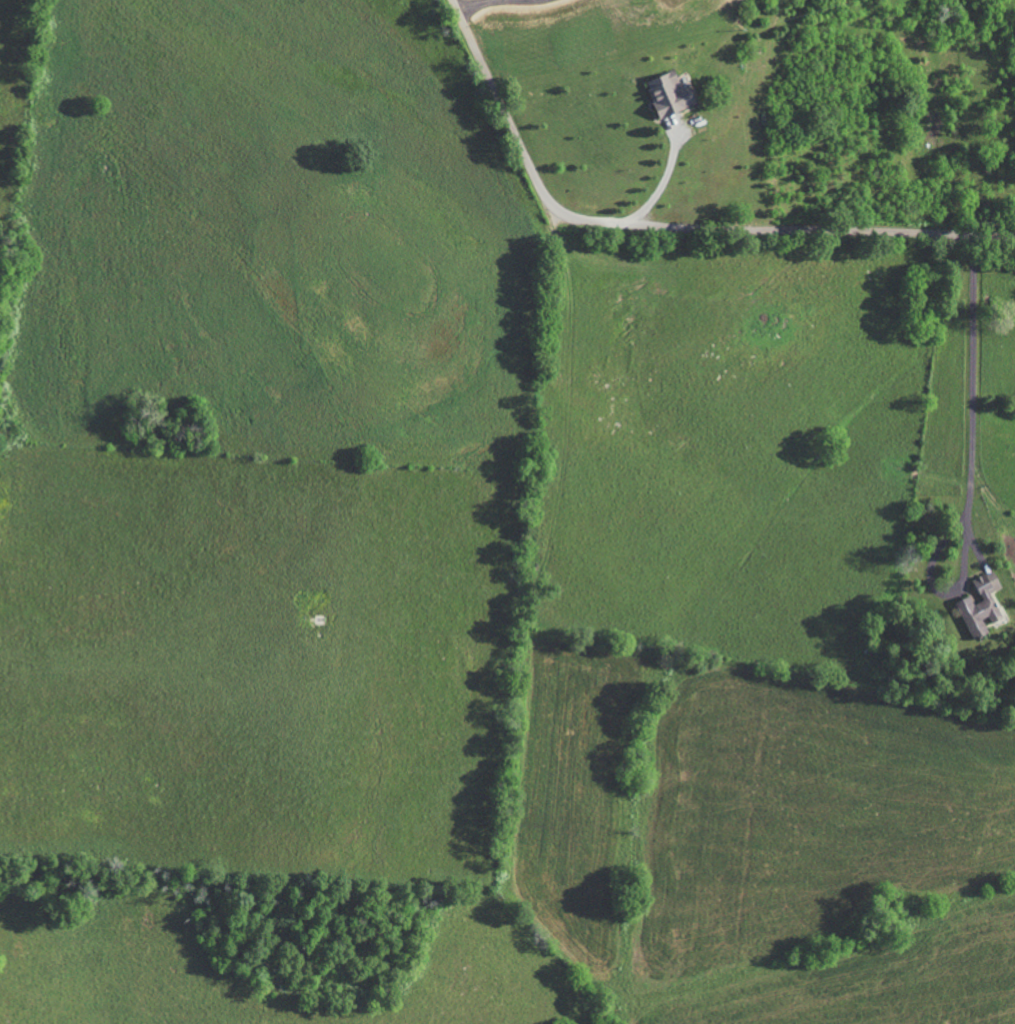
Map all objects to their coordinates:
building: (669, 93)
road: (662, 184)
road: (669, 225)
road: (971, 468)
building: (981, 605)

